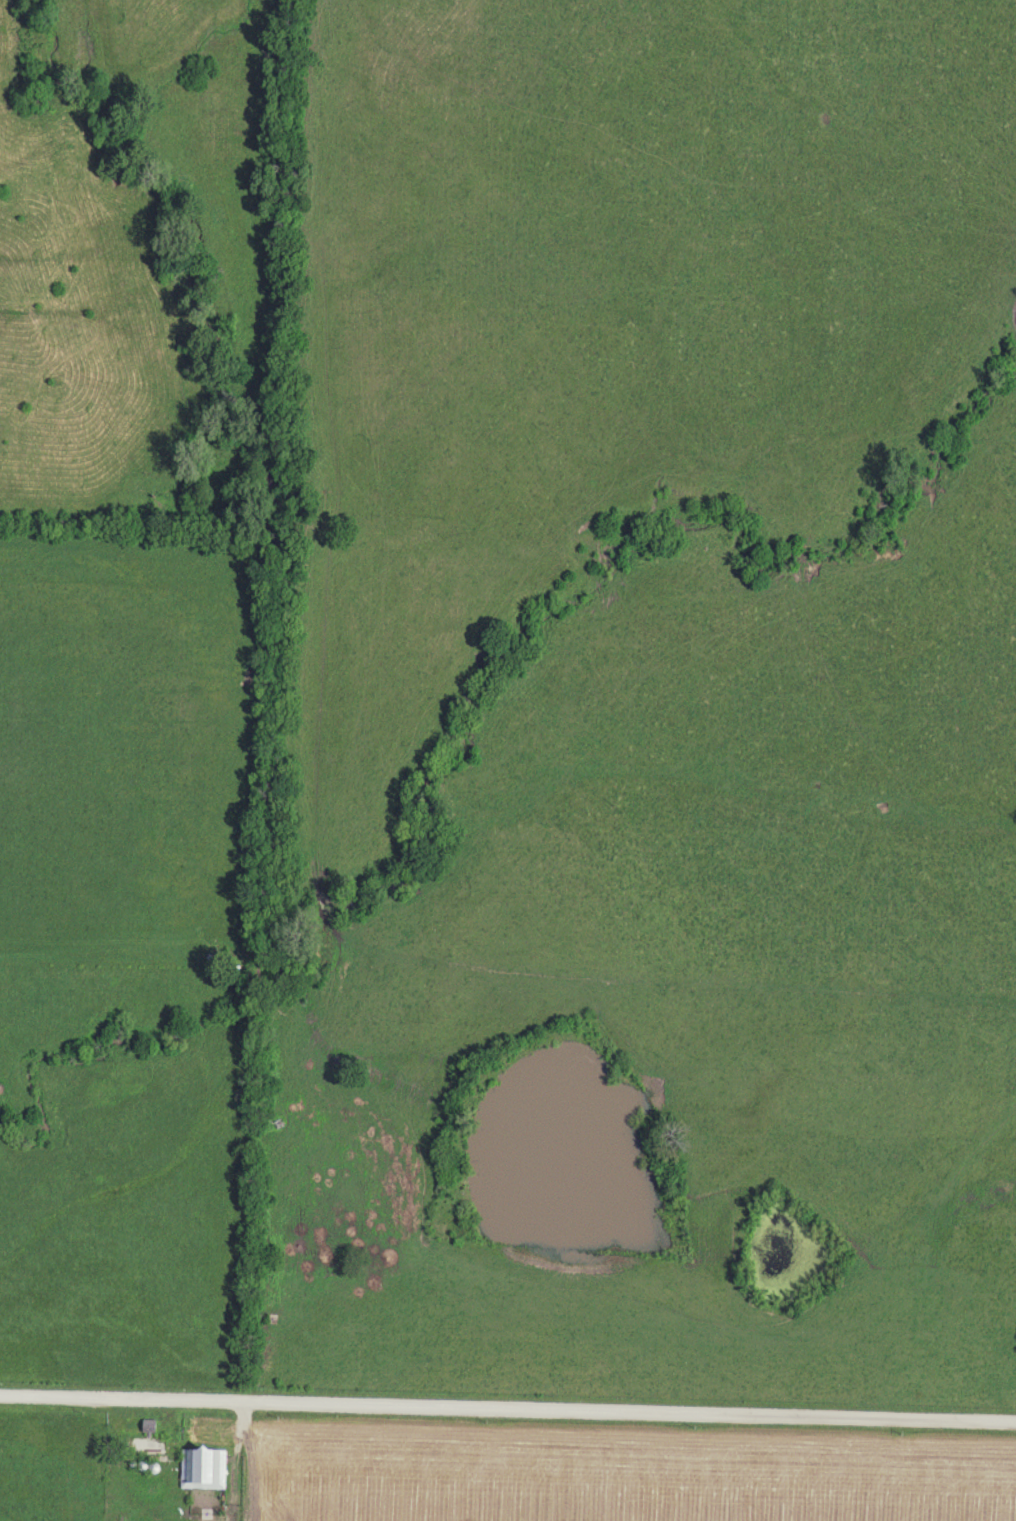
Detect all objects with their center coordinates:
road: (508, 1411)
building: (146, 1426)
building: (142, 1445)
building: (201, 1469)

